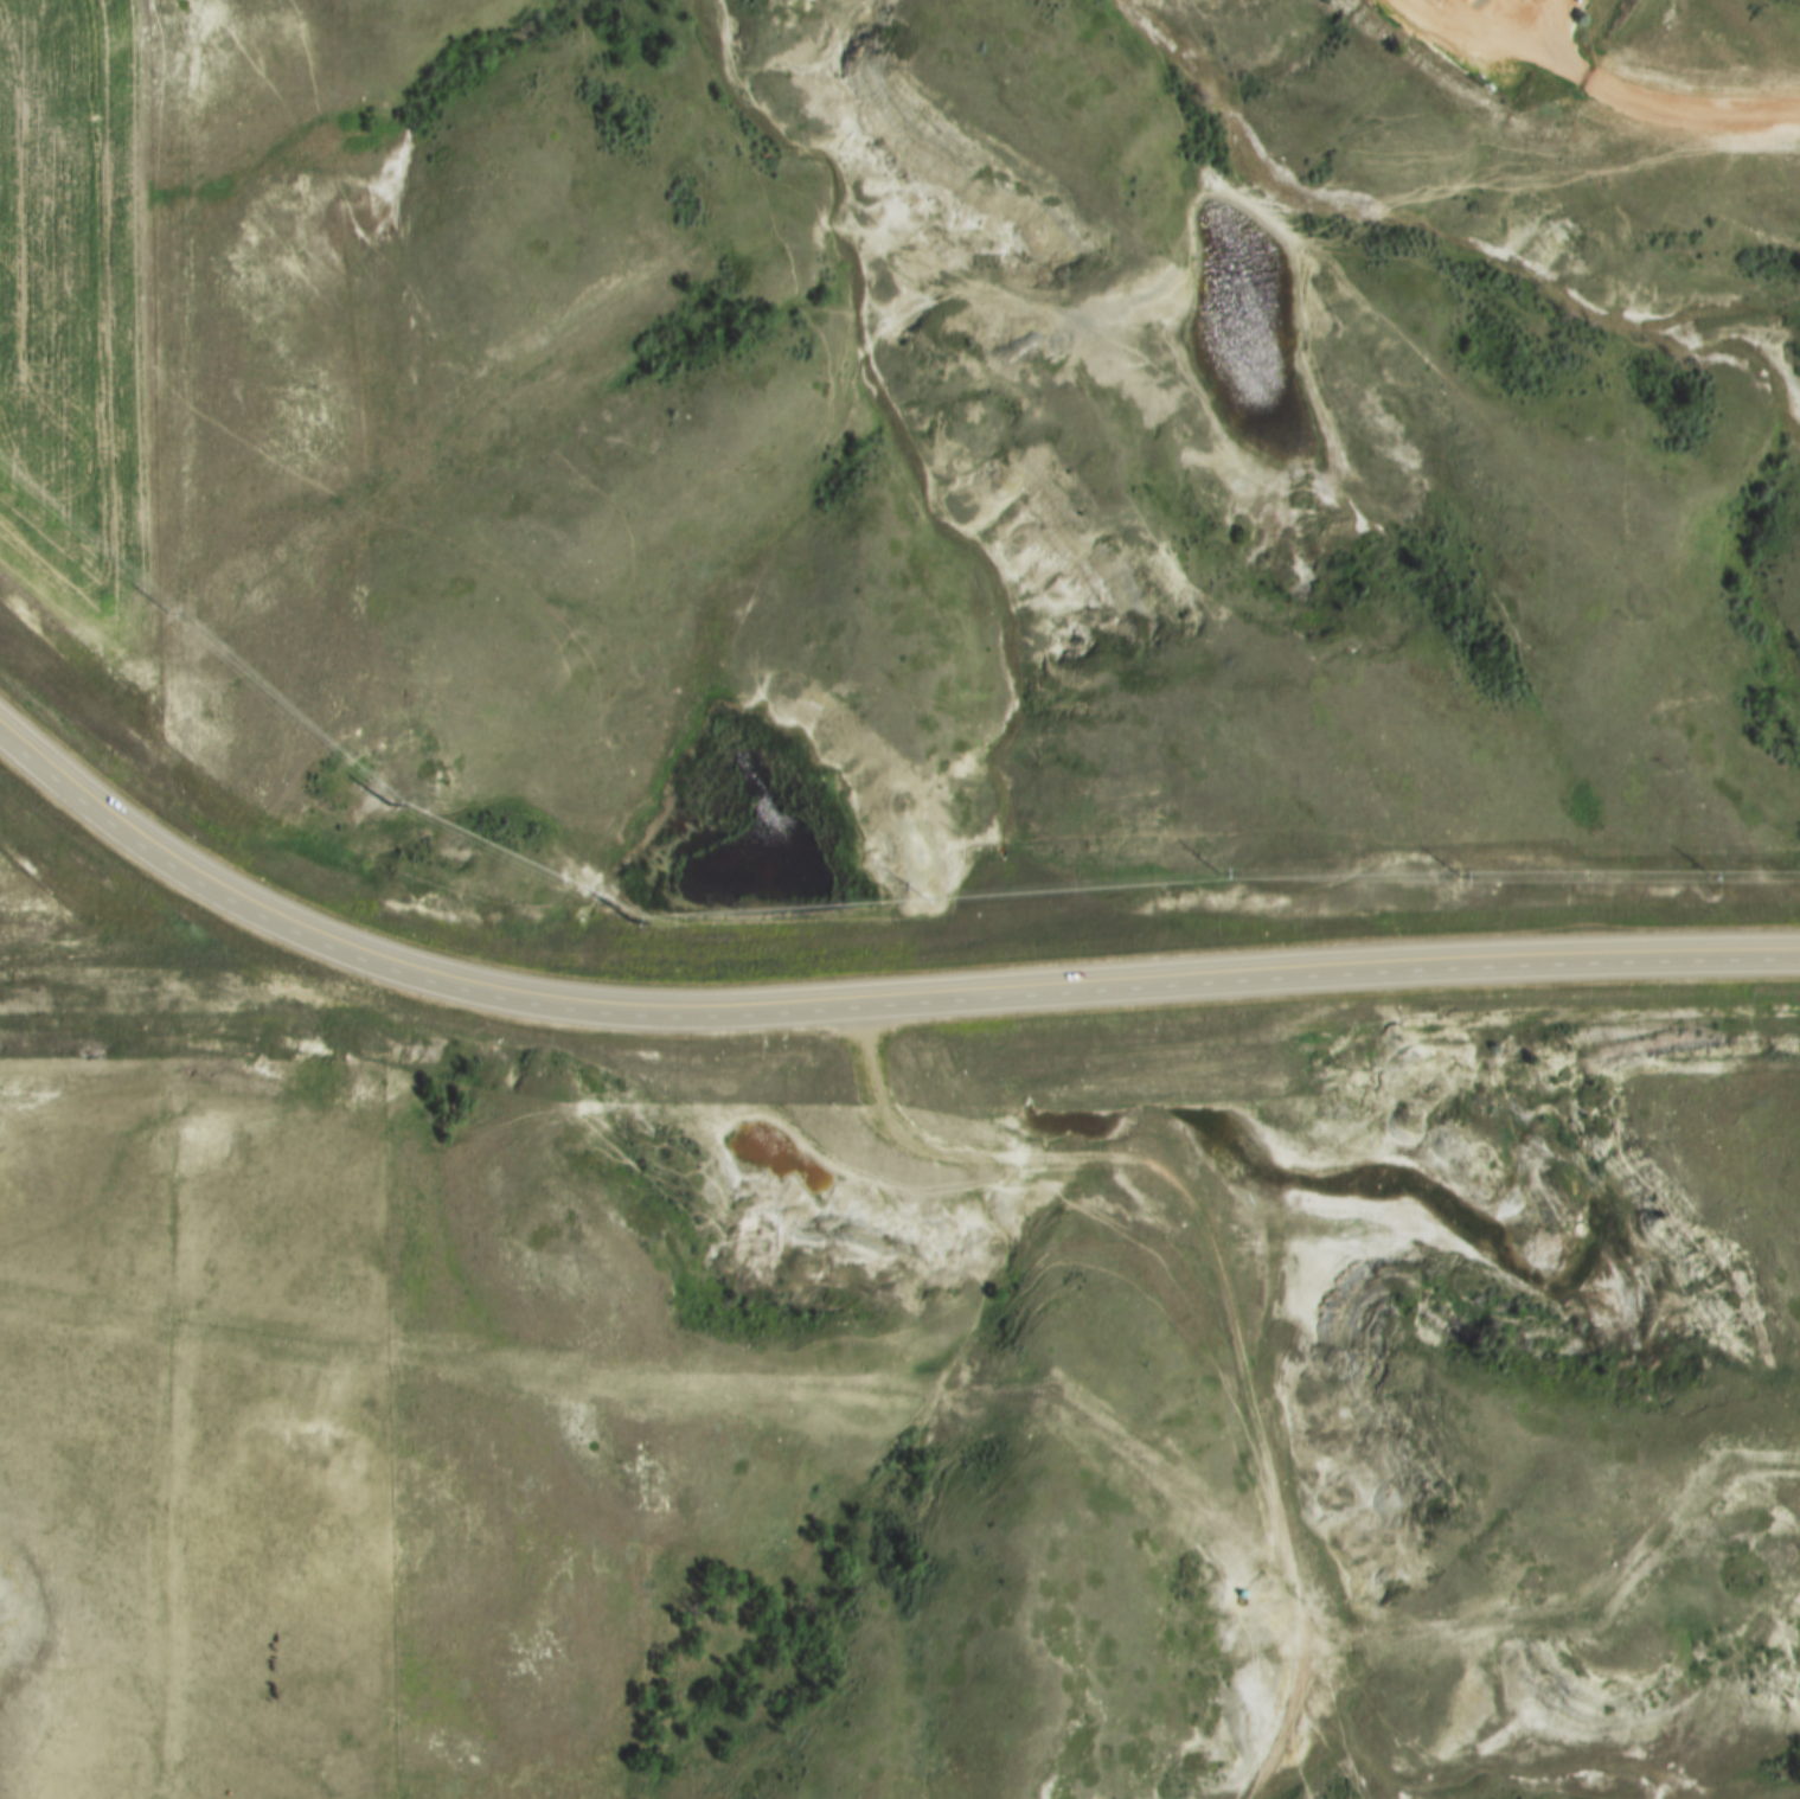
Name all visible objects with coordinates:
road: (1546, 18)
road: (1481, 26)
road: (1665, 97)
road: (178, 868)
road: (1088, 990)
road: (1221, 1281)
road: (1331, 1736)

